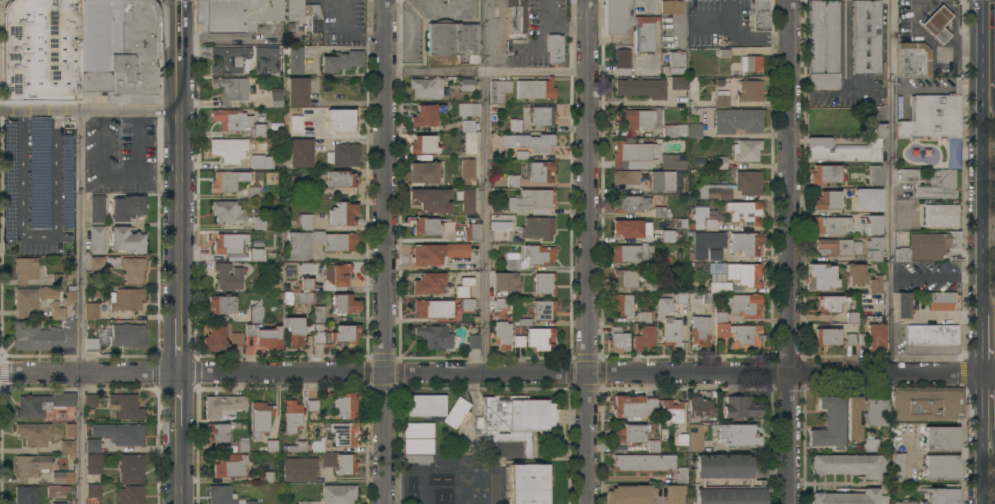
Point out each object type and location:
building: (670, 7)
building: (235, 14)
road: (332, 14)
road: (343, 14)
building: (761, 14)
building: (296, 15)
building: (617, 16)
building: (315, 19)
building: (516, 19)
road: (720, 21)
building: (936, 23)
road: (564, 27)
road: (180, 30)
building: (645, 33)
road: (363, 35)
building: (865, 36)
road: (752, 38)
building: (453, 40)
building: (815, 41)
road: (990, 43)
building: (554, 48)
building: (119, 49)
building: (41, 50)
building: (228, 59)
road: (509, 59)
building: (296, 60)
building: (267, 61)
building: (341, 61)
building: (622, 61)
road: (843, 61)
road: (992, 62)
building: (910, 63)
building: (674, 64)
building: (751, 64)
road: (491, 65)
road: (435, 73)
road: (537, 73)
building: (678, 82)
building: (465, 84)
building: (426, 87)
building: (642, 88)
building: (231, 89)
building: (535, 89)
building: (498, 90)
building: (749, 90)
building: (297, 91)
building: (275, 92)
road: (992, 93)
road: (855, 94)
building: (719, 99)
building: (276, 100)
building: (470, 109)
road: (90, 110)
building: (542, 115)
building: (932, 115)
building: (423, 116)
building: (232, 119)
building: (340, 120)
building: (640, 120)
building: (737, 120)
building: (295, 124)
building: (515, 124)
building: (875, 129)
building: (259, 130)
building: (674, 130)
building: (694, 130)
building: (469, 136)
building: (529, 142)
building: (422, 144)
building: (8, 145)
building: (230, 149)
building: (746, 150)
building: (842, 150)
building: (952, 152)
building: (300, 153)
building: (631, 154)
building: (343, 155)
building: (671, 161)
building: (257, 162)
building: (719, 162)
building: (467, 169)
building: (540, 171)
building: (38, 172)
building: (423, 172)
road: (120, 174)
building: (824, 174)
building: (874, 174)
building: (625, 177)
building: (512, 180)
building: (666, 181)
building: (223, 182)
building: (748, 182)
building: (332, 183)
building: (932, 183)
road: (892, 186)
building: (343, 191)
building: (713, 191)
road: (180, 193)
building: (253, 193)
building: (867, 199)
building: (431, 200)
building: (466, 200)
building: (827, 200)
building: (532, 201)
road: (982, 202)
building: (630, 203)
building: (125, 207)
building: (97, 208)
building: (226, 211)
building: (744, 211)
building: (662, 212)
building: (701, 212)
building: (342, 213)
building: (941, 215)
building: (304, 222)
building: (259, 223)
road: (486, 223)
building: (710, 224)
building: (829, 224)
building: (872, 224)
building: (426, 226)
building: (537, 227)
building: (629, 228)
building: (470, 229)
building: (500, 234)
road: (38, 235)
building: (664, 237)
building: (97, 239)
building: (126, 240)
building: (229, 243)
building: (705, 243)
building: (745, 243)
building: (838, 246)
building: (928, 246)
building: (340, 247)
building: (879, 249)
building: (456, 250)
road: (385, 251)
road: (589, 251)
building: (630, 252)
road: (786, 252)
building: (256, 254)
building: (427, 254)
building: (538, 254)
building: (714, 255)
building: (663, 261)
building: (96, 262)
building: (511, 262)
building: (716, 267)
building: (26, 269)
building: (132, 269)
building: (289, 272)
building: (855, 273)
building: (337, 274)
building: (744, 274)
building: (227, 276)
building: (820, 277)
building: (627, 278)
building: (58, 279)
building: (306, 283)
building: (428, 283)
building: (505, 283)
building: (544, 283)
building: (875, 284)
building: (654, 286)
building: (464, 287)
building: (715, 291)
building: (48, 293)
building: (69, 294)
building: (301, 297)
building: (681, 297)
building: (126, 299)
building: (25, 300)
building: (941, 301)
building: (827, 303)
building: (221, 304)
building: (343, 304)
building: (467, 304)
building: (500, 304)
building: (622, 305)
building: (664, 305)
building: (744, 305)
building: (902, 305)
road: (81, 306)
building: (433, 309)
building: (543, 309)
building: (91, 311)
road: (993, 311)
building: (58, 313)
building: (255, 314)
building: (318, 314)
building: (643, 317)
building: (852, 317)
building: (294, 330)
building: (672, 331)
building: (700, 331)
building: (334, 333)
building: (738, 333)
building: (501, 334)
building: (874, 334)
building: (932, 334)
building: (128, 336)
building: (264, 336)
building: (435, 336)
building: (827, 336)
building: (41, 337)
building: (540, 338)
building: (644, 338)
building: (214, 339)
building: (236, 339)
building: (850, 339)
building: (618, 340)
building: (474, 341)
building: (518, 341)
road: (992, 343)
building: (90, 344)
road: (179, 349)
road: (497, 374)
building: (90, 400)
building: (927, 403)
building: (42, 404)
road: (992, 404)
building: (223, 405)
building: (312, 405)
building: (426, 405)
building: (651, 405)
building: (126, 406)
building: (345, 406)
building: (627, 406)
road: (180, 407)
building: (741, 407)
building: (700, 408)
building: (877, 410)
road: (993, 412)
building: (457, 413)
building: (261, 416)
building: (291, 417)
building: (853, 419)
building: (676, 420)
building: (829, 423)
building: (70, 430)
building: (418, 430)
building: (220, 431)
building: (628, 433)
building: (33, 434)
building: (343, 434)
building: (738, 435)
road: (994, 436)
building: (115, 437)
building: (695, 437)
building: (941, 438)
building: (518, 440)
building: (869, 444)
building: (67, 446)
building: (241, 446)
building: (271, 446)
building: (418, 446)
building: (654, 446)
building: (296, 447)
building: (417, 458)
building: (335, 459)
building: (93, 463)
building: (643, 463)
building: (883, 463)
building: (846, 464)
building: (30, 466)
building: (230, 466)
building: (131, 467)
building: (898, 467)
building: (941, 467)
road: (981, 467)
building: (299, 469)
road: (180, 472)
building: (681, 475)
building: (62, 477)
building: (265, 477)
building: (724, 480)
building: (56, 491)
building: (92, 493)
building: (26, 494)
building: (221, 494)
building: (338, 494)
building: (629, 494)
building: (673, 494)
building: (128, 495)
building: (942, 496)
building: (848, 497)
building: (883, 499)
building: (250, 502)
building: (304, 502)
building: (904, 502)
building: (58, 503)

